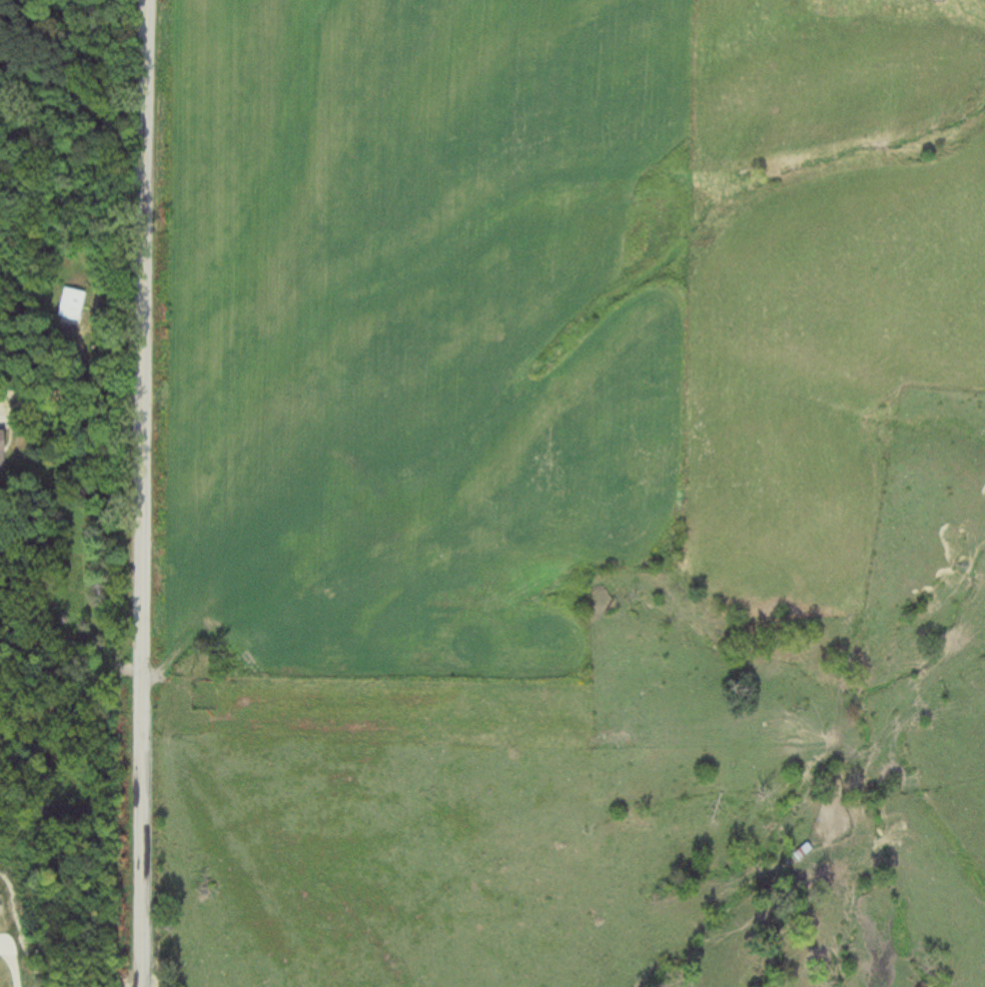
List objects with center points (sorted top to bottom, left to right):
building: (69, 304)
building: (1, 450)
road: (141, 493)
building: (801, 851)

